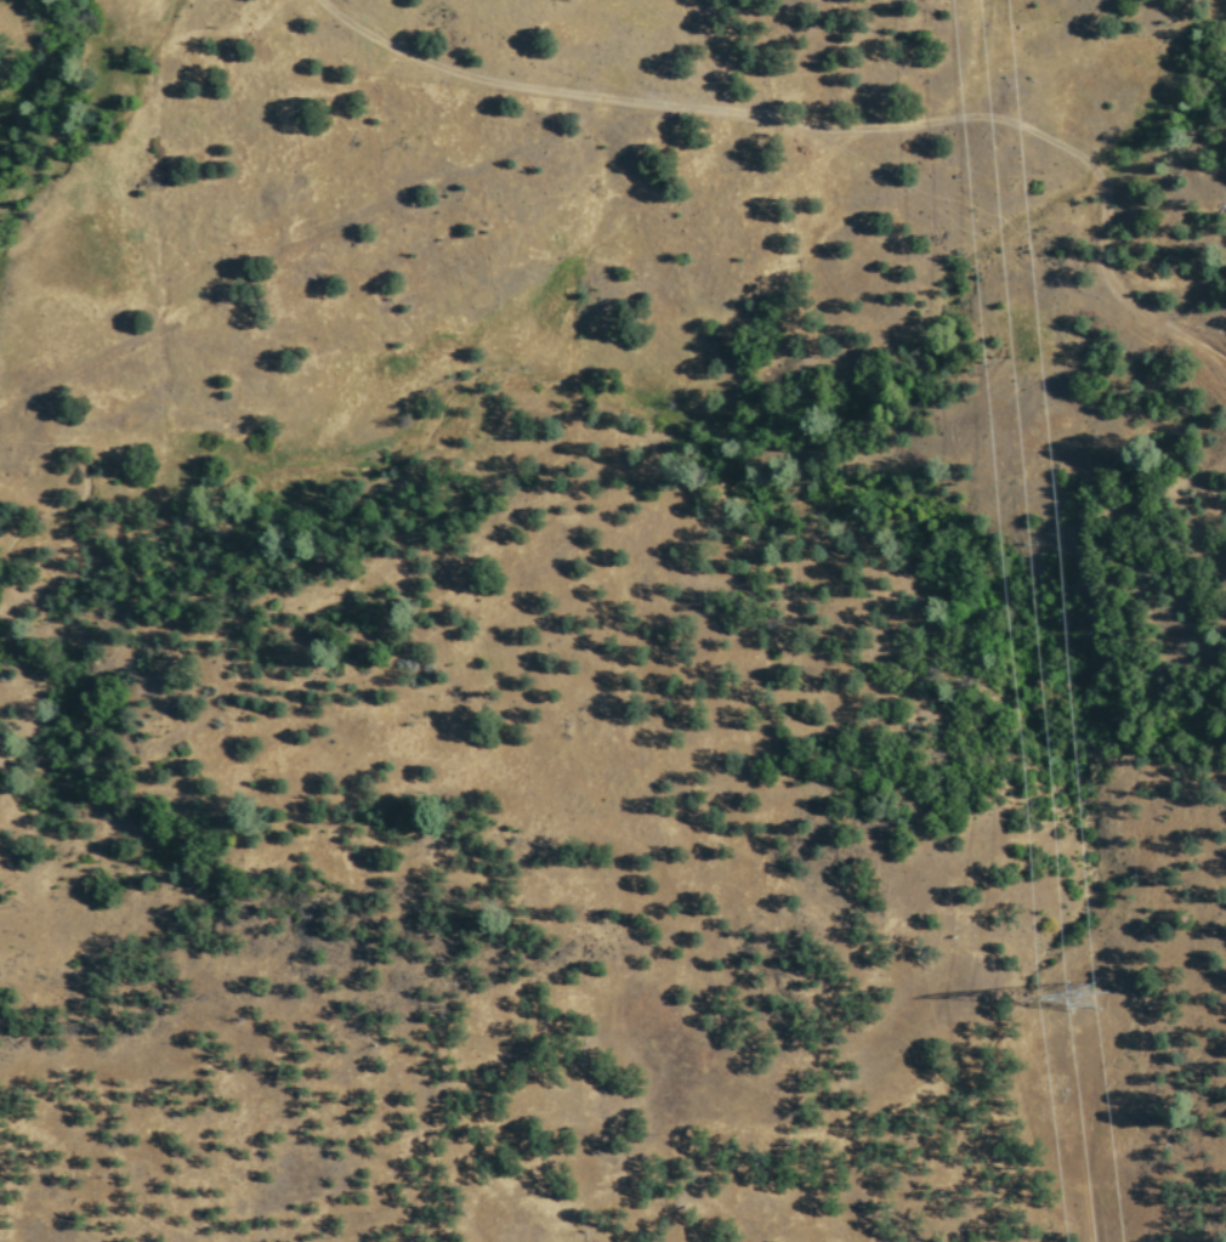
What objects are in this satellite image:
road: (831, 135)
power tower: (1079, 1017)

